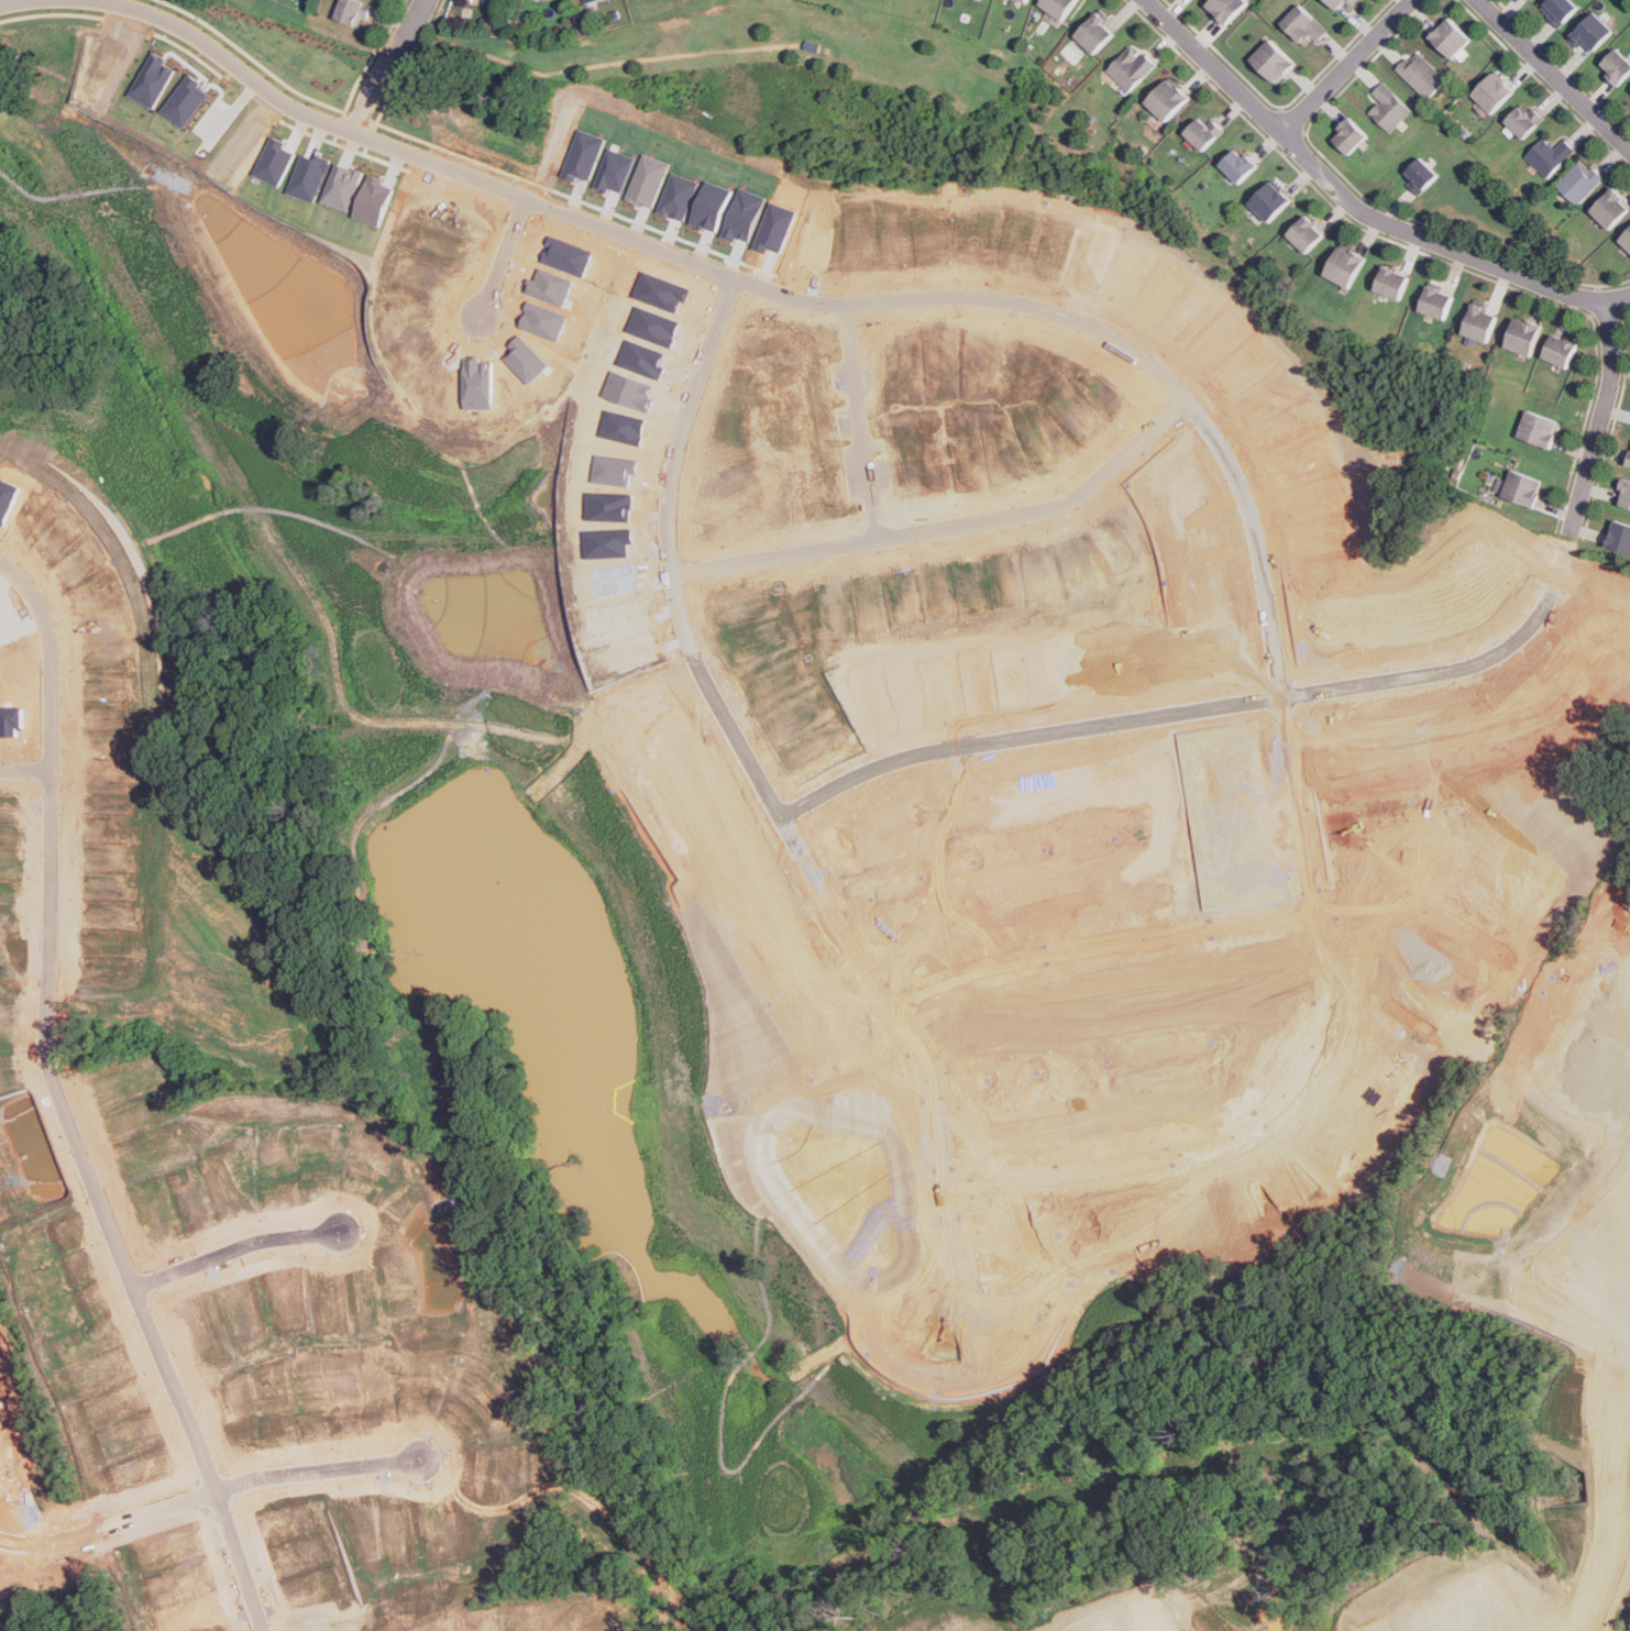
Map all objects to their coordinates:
road: (27, 0)
building: (1025, 0)
building: (588, 1)
building: (1340, 2)
building: (1058, 7)
building: (1226, 9)
building: (1560, 10)
building: (353, 12)
road: (51, 15)
road: (432, 24)
building: (1303, 26)
road: (409, 29)
building: (1592, 33)
building: (1097, 34)
building: (1450, 37)
building: (1274, 63)
road: (1563, 64)
road: (1346, 66)
building: (1617, 67)
building: (1132, 68)
building: (1421, 75)
road: (1554, 75)
road: (1544, 84)
road: (300, 93)
road: (372, 93)
building: (1493, 93)
building: (1167, 100)
road: (1280, 106)
building: (1388, 108)
building: (1523, 121)
road: (372, 123)
road: (338, 125)
road: (1304, 131)
building: (1204, 133)
building: (1348, 137)
road: (343, 144)
road: (412, 151)
building: (1549, 155)
building: (1237, 165)
building: (1420, 175)
building: (1579, 181)
road: (1368, 198)
building: (1270, 200)
road: (1329, 202)
road: (1355, 207)
building: (1610, 208)
building: (1307, 233)
building: (1626, 239)
road: (503, 258)
building: (1345, 265)
building: (1391, 282)
building: (1436, 301)
road: (1594, 313)
building: (1479, 321)
building: (1523, 335)
building: (1560, 350)
road: (1582, 422)
road: (858, 425)
building: (1539, 428)
road: (1611, 431)
building: (1628, 460)
building: (1524, 486)
building: (1625, 493)
road: (1034, 514)
building: (1620, 535)
road: (1556, 595)
road: (68, 636)
road: (35, 662)
road: (1031, 736)
road: (16, 752)
road: (48, 753)
road: (30, 770)
road: (23, 771)
road: (14, 786)
road: (46, 787)
road: (60, 868)
road: (1134, 945)
road: (26, 1004)
road: (62, 1101)
road: (1286, 1103)
road: (241, 1252)
road: (1625, 1335)
road: (326, 1472)
road: (1623, 1497)
road: (112, 1528)

